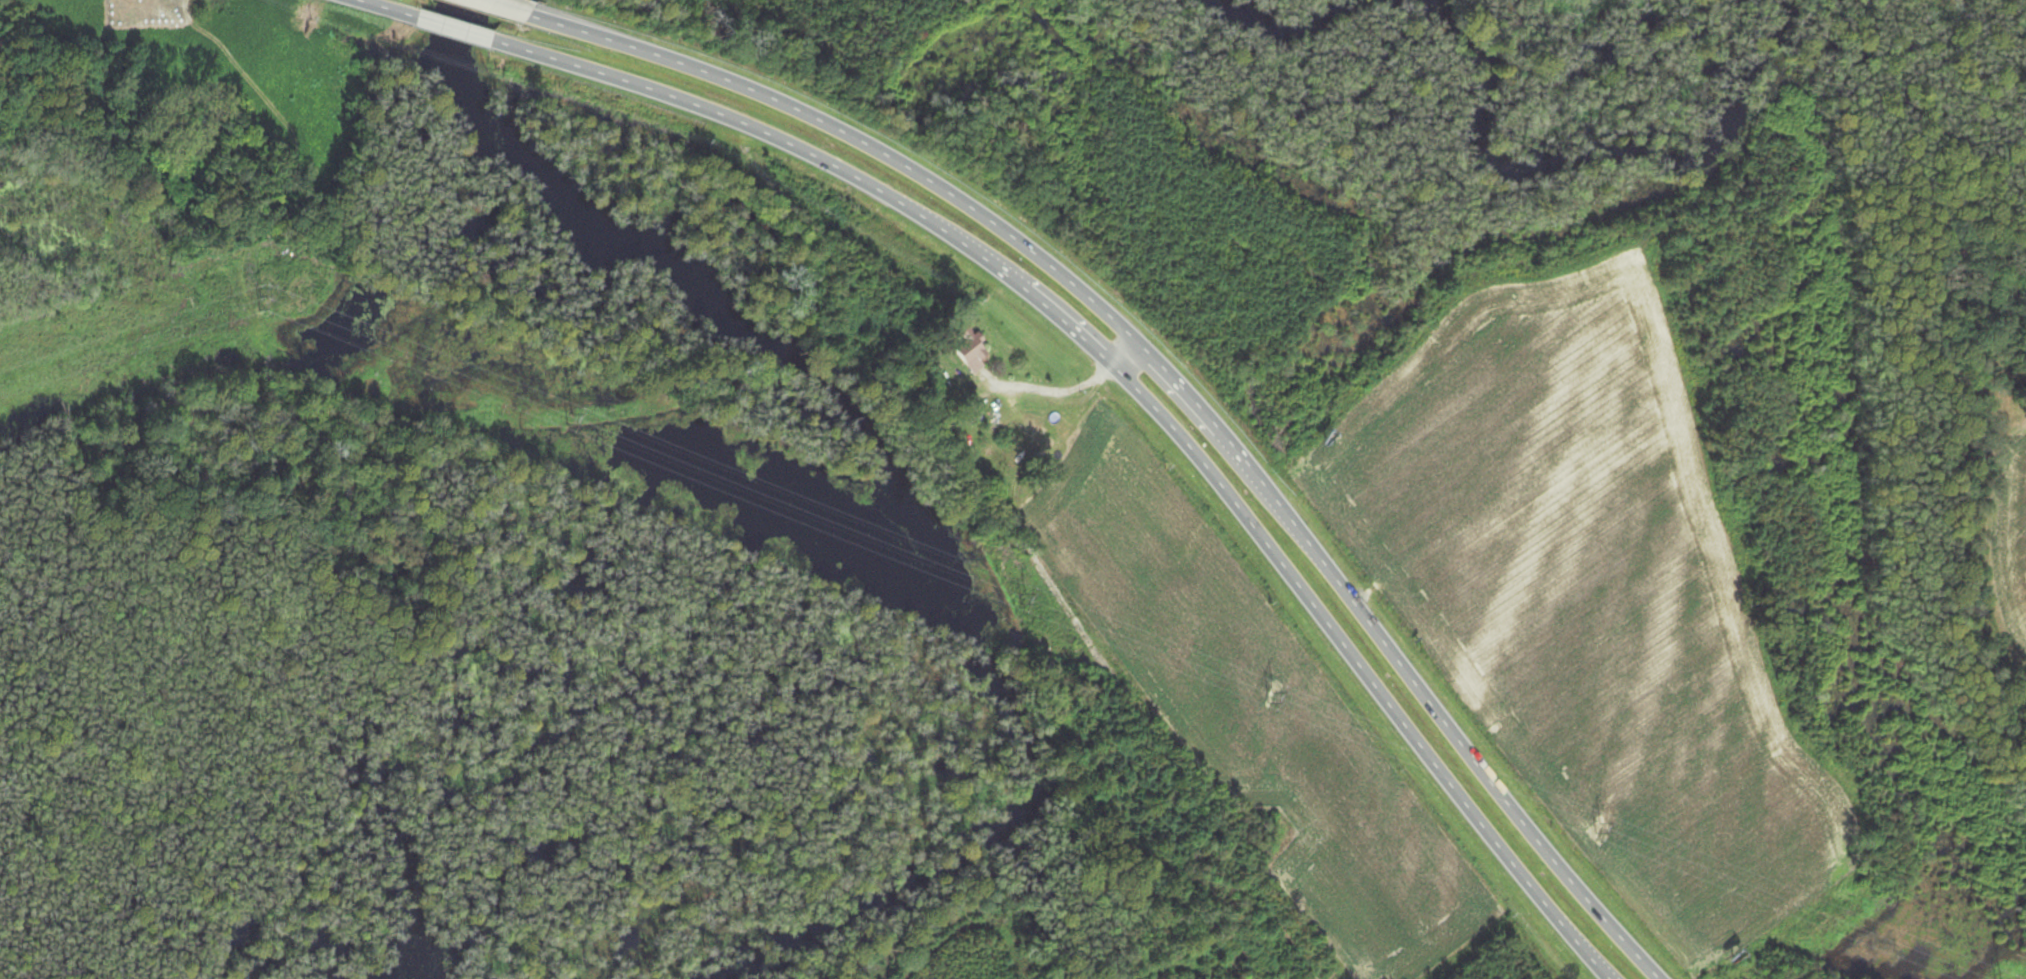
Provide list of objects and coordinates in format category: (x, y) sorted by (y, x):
road: (380, 9)
road: (498, 9)
road: (455, 31)
power tower: (258, 300)
building: (975, 354)
road: (1129, 358)
road: (1181, 388)
road: (1143, 398)
power tower: (566, 419)
building: (1010, 419)
power tower: (1010, 600)
power tower: (1271, 698)
road: (1128, 748)
power tower: (1594, 829)

